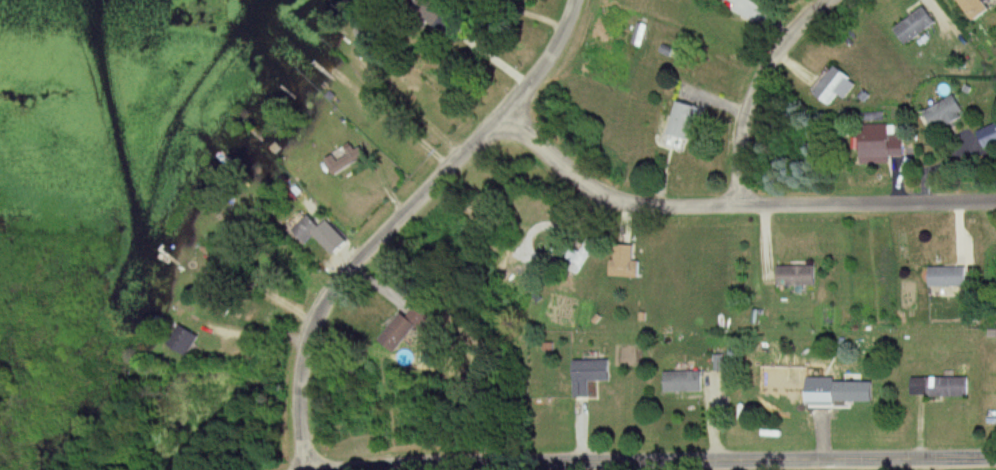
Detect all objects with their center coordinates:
building: (752, 0)
building: (977, 9)
building: (444, 17)
building: (920, 29)
building: (834, 86)
road: (758, 92)
road: (401, 97)
building: (947, 113)
building: (683, 125)
building: (990, 137)
building: (883, 144)
road: (737, 206)
road: (406, 219)
building: (582, 254)
building: (626, 268)
building: (798, 275)
building: (947, 276)
building: (224, 302)
building: (405, 328)
building: (184, 339)
building: (591, 374)
building: (684, 381)
building: (939, 386)
road: (649, 462)

